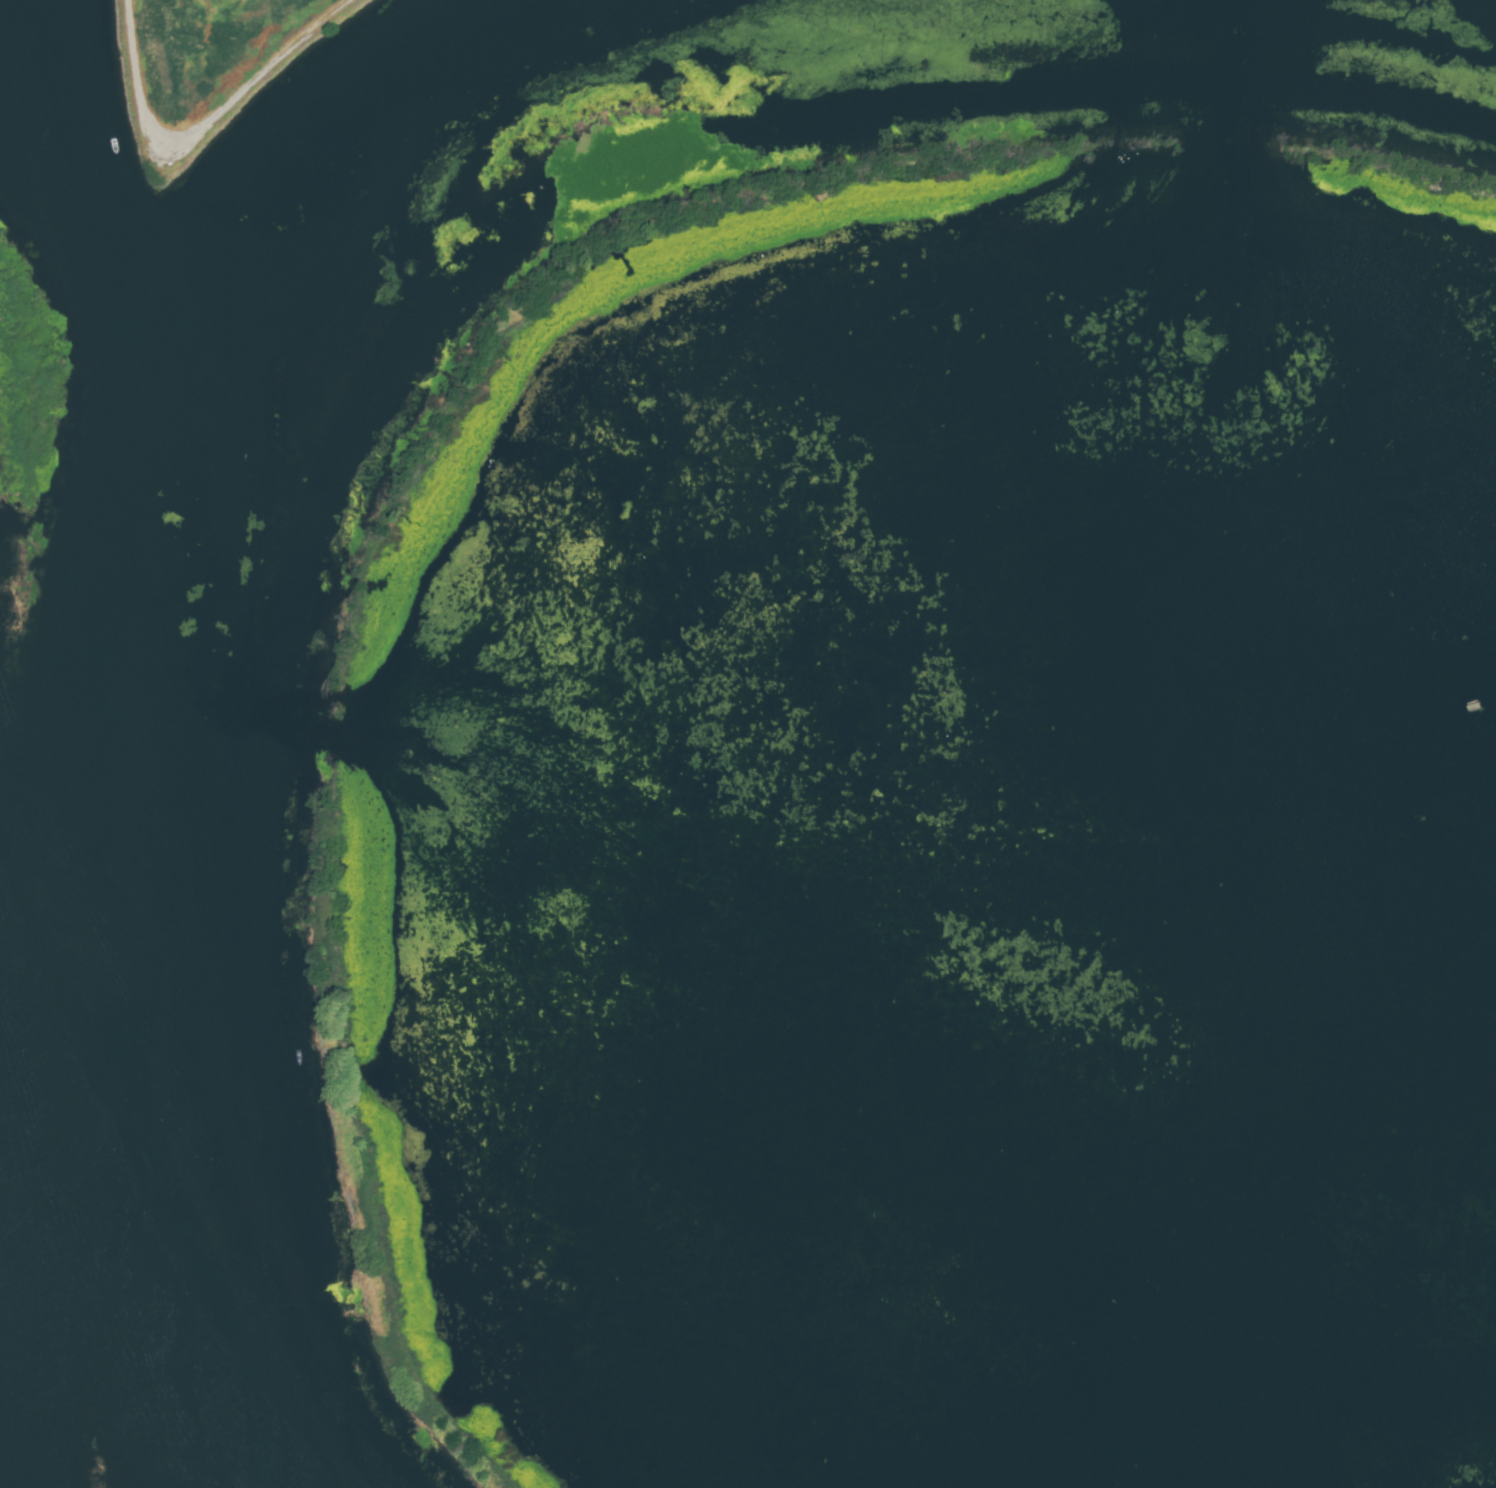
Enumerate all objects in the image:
crop: (193, 18)
river: (515, 97)

